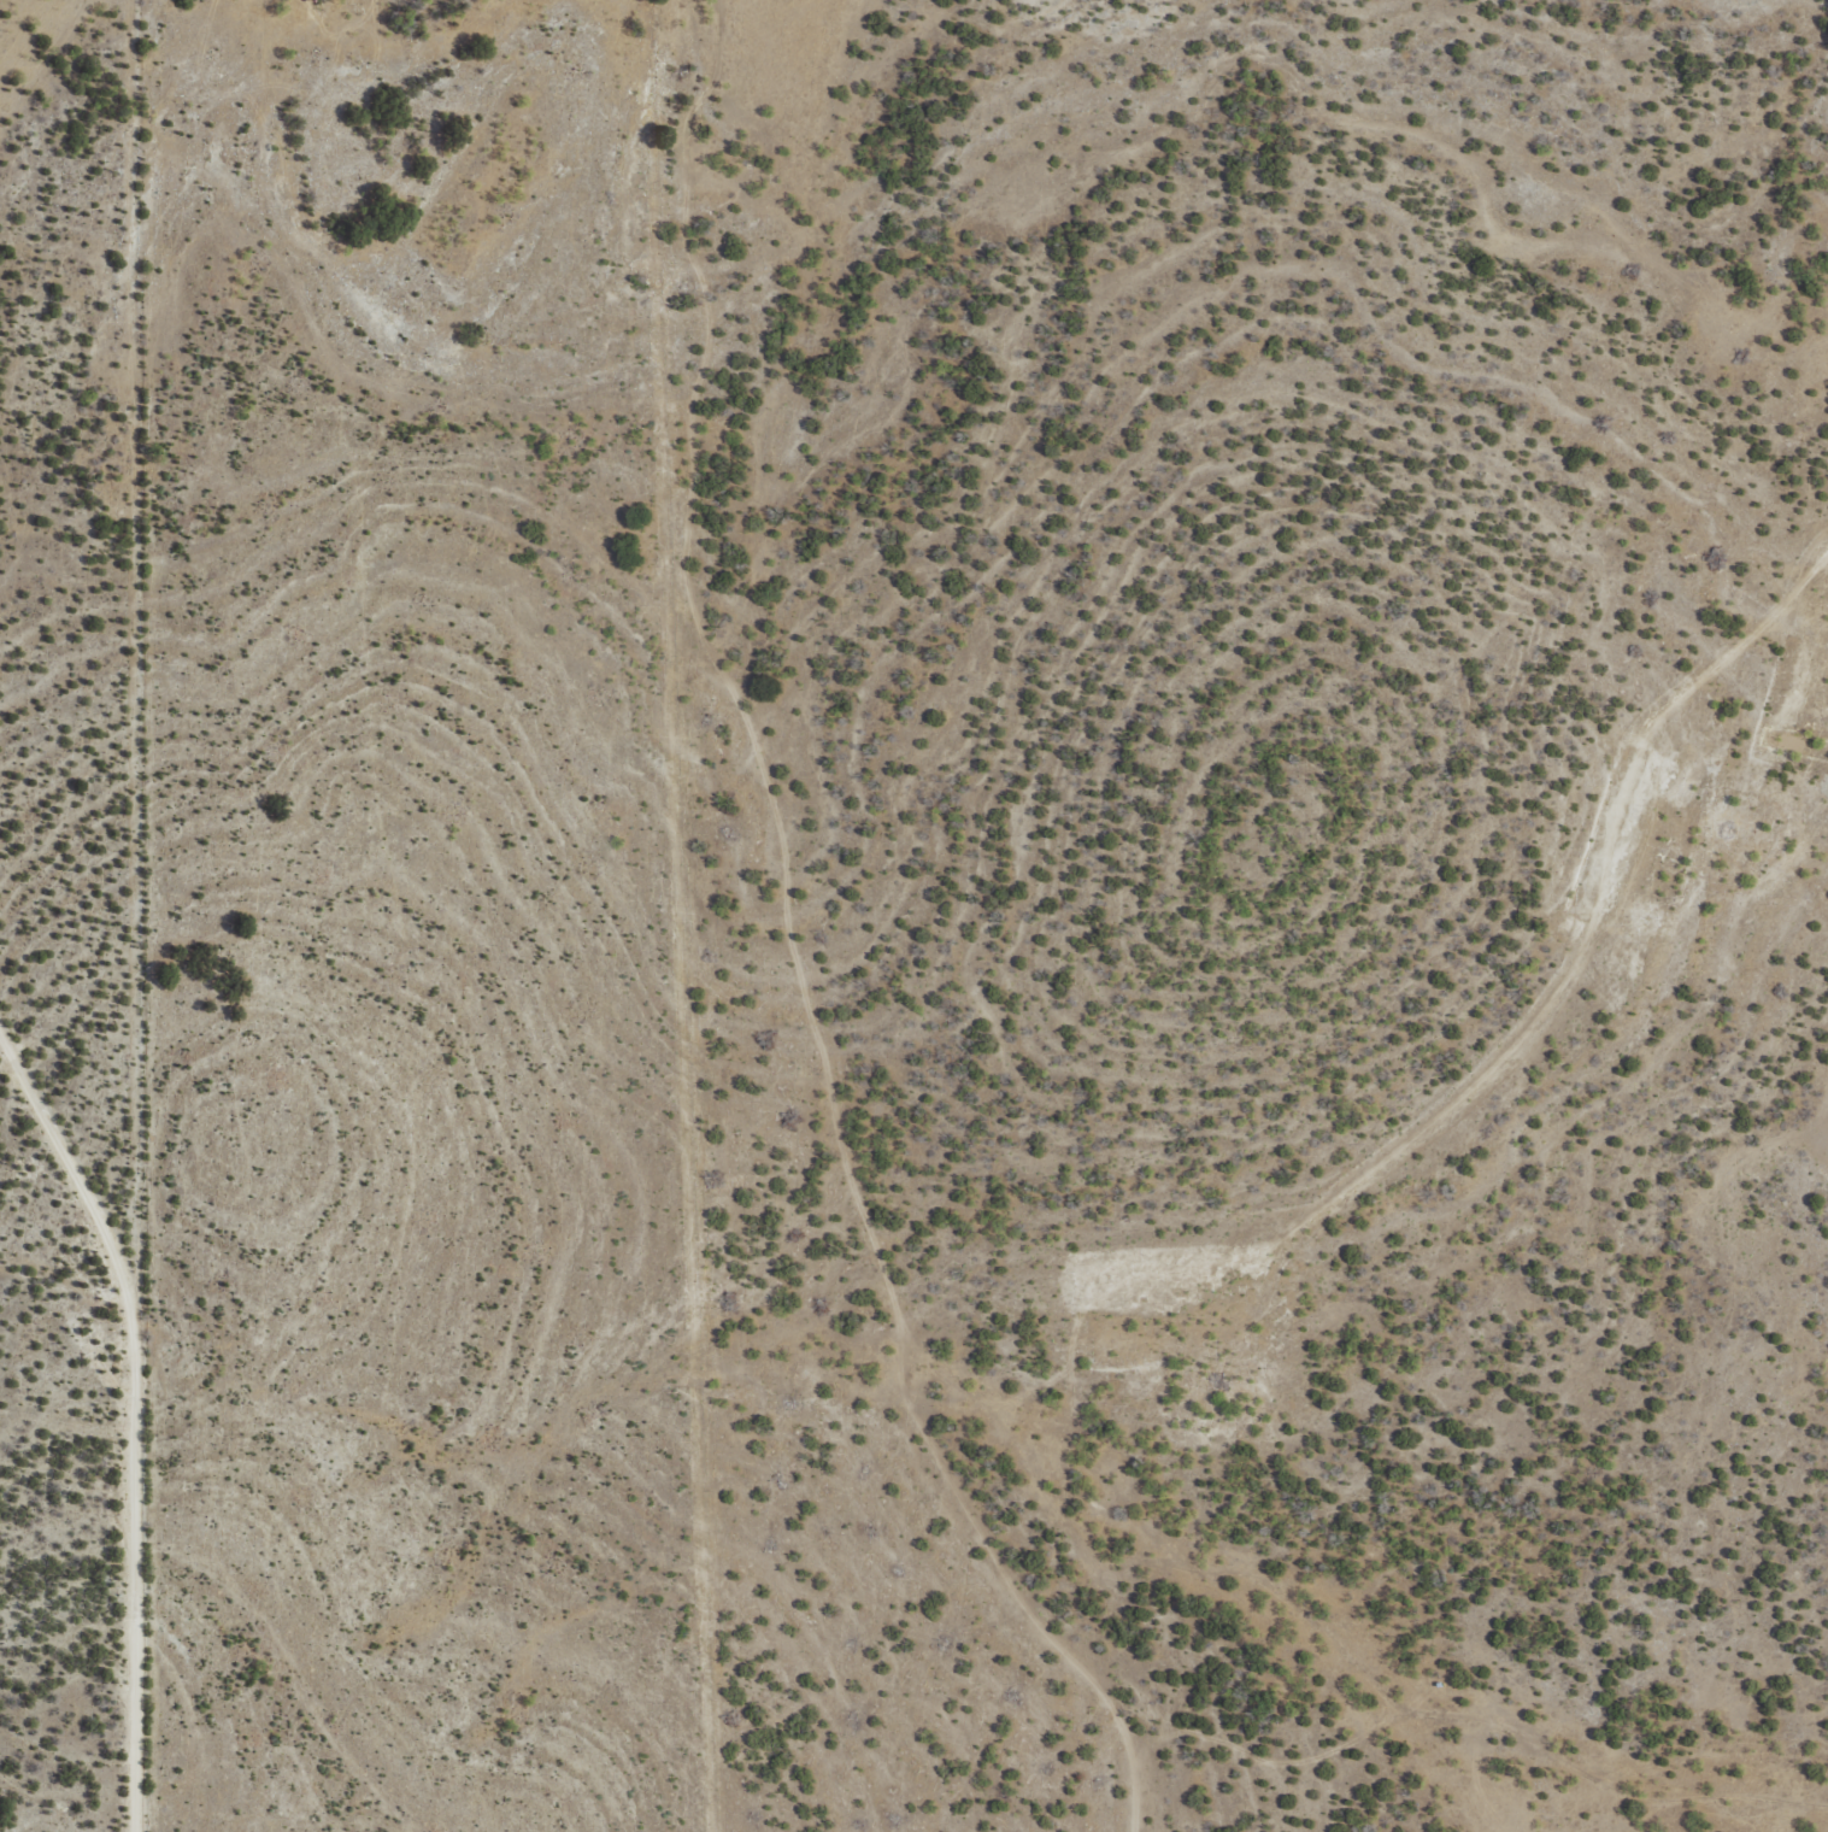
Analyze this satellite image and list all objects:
road: (94, 1448)

